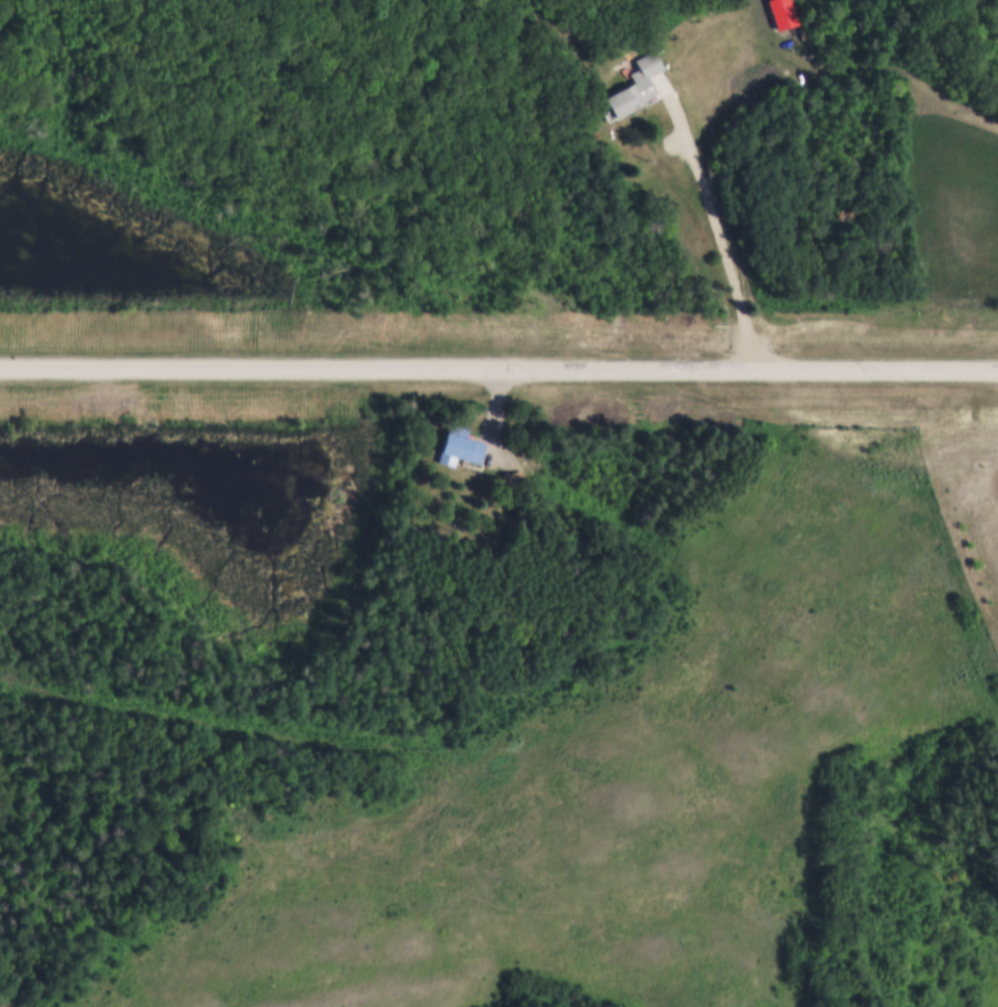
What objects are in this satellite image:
building: (785, 15)
building: (633, 84)
road: (717, 224)
road: (499, 366)
building: (461, 444)
building: (531, 458)

